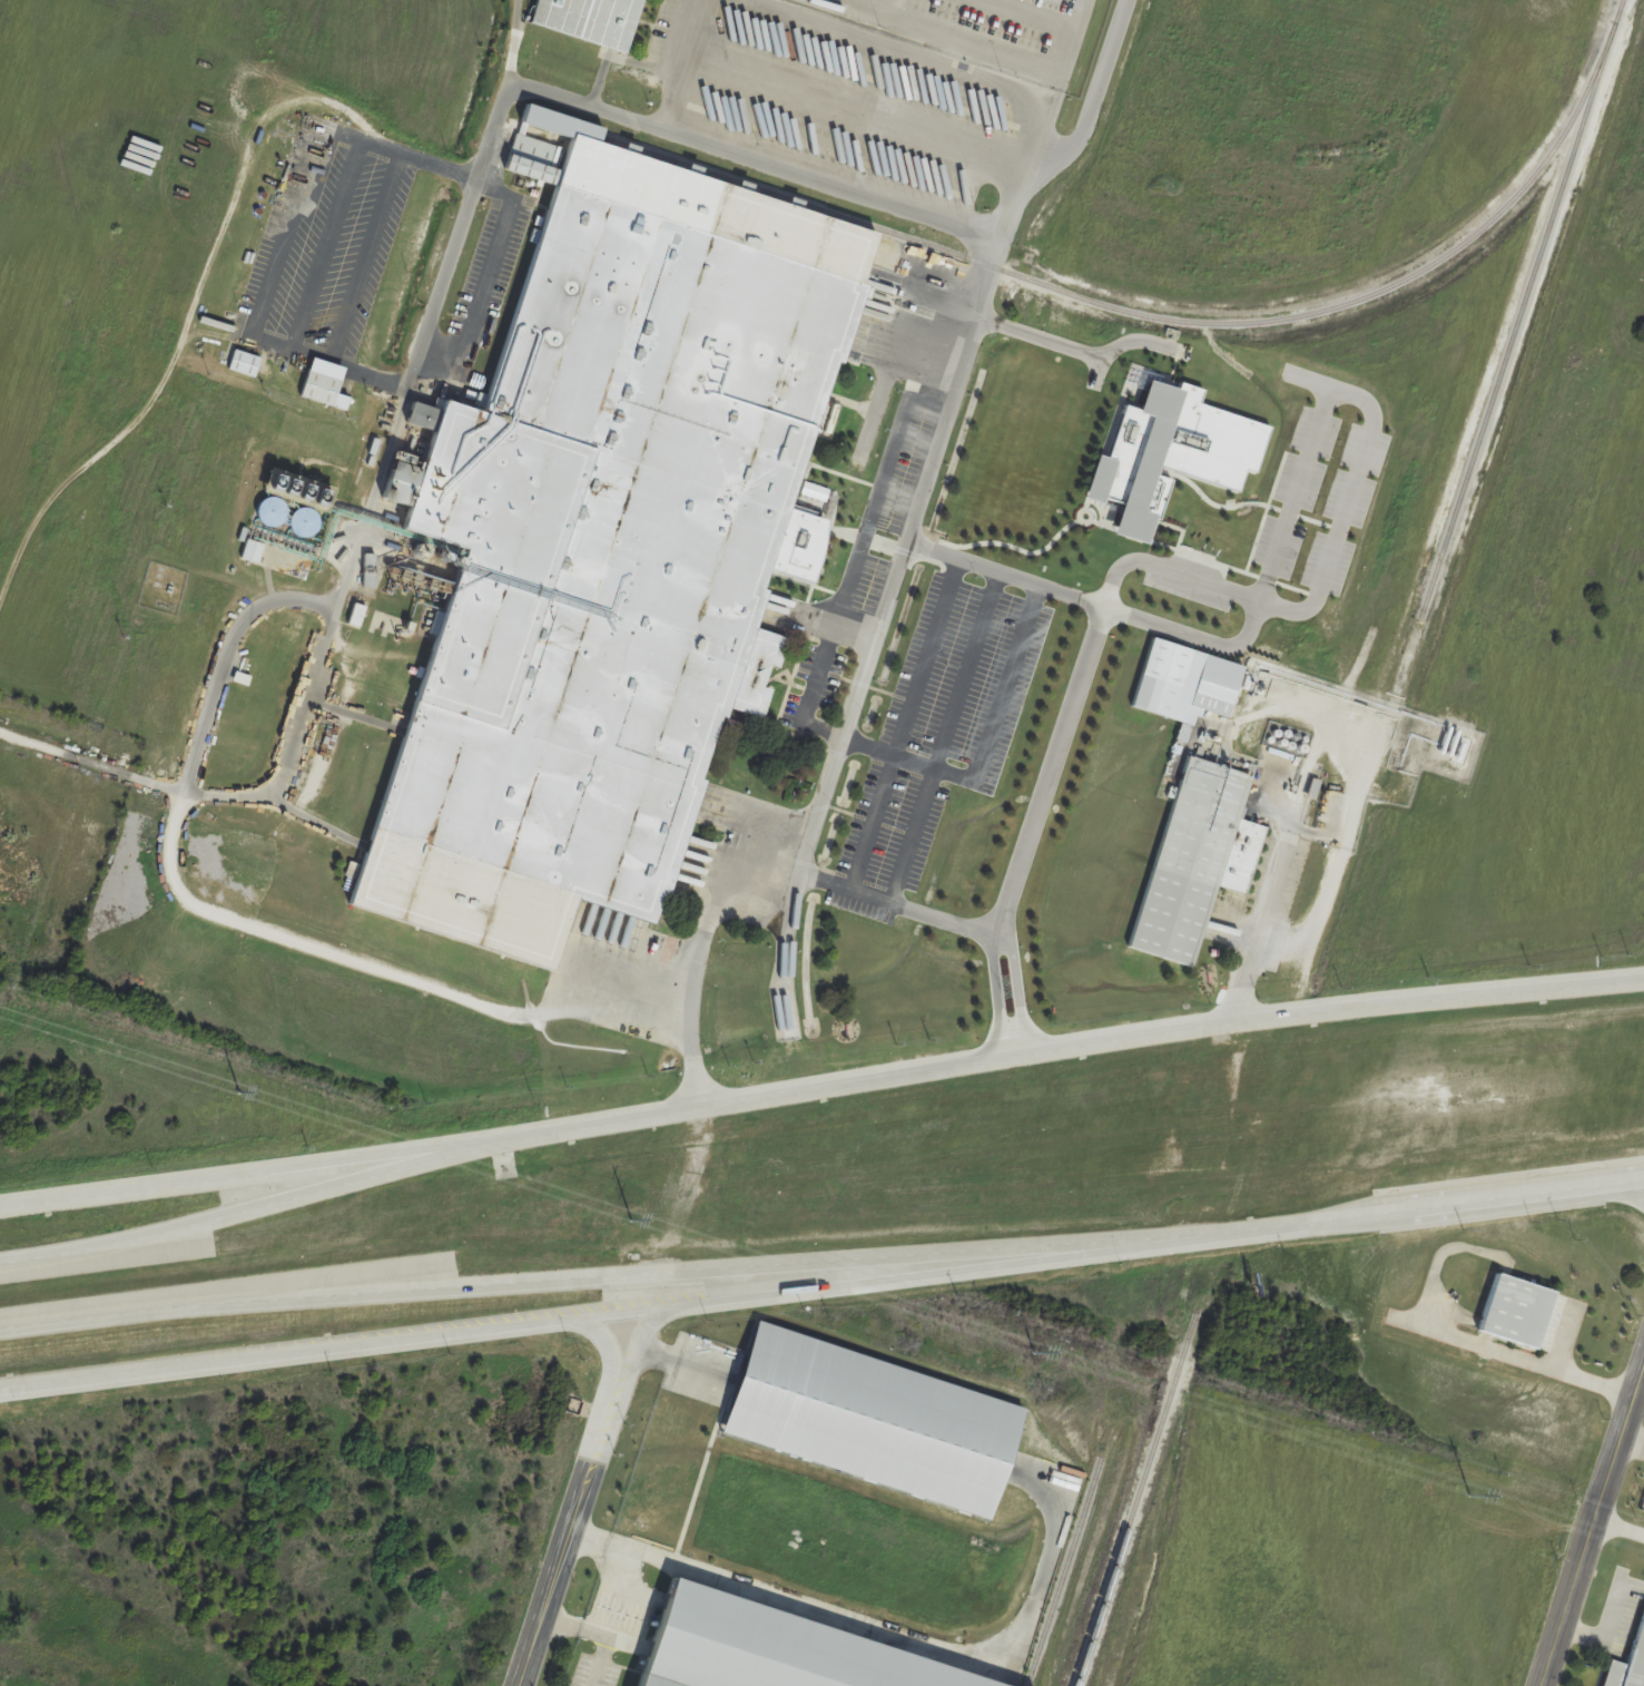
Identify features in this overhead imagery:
building: (589, 20)
road: (947, 35)
road: (1072, 43)
road: (1094, 94)
road: (599, 111)
road: (825, 192)
road: (485, 281)
railway: (1164, 315)
road: (259, 333)
road: (1055, 345)
building: (243, 363)
building: (321, 390)
railway: (1465, 492)
building: (595, 547)
road: (856, 559)
road: (1329, 559)
building: (394, 606)
road: (854, 635)
building: (1154, 696)
building: (1212, 697)
road: (902, 728)
road: (981, 748)
road: (98, 763)
road: (917, 841)
road: (806, 850)
building: (1194, 857)
road: (898, 912)
road: (258, 934)
road: (996, 950)
road: (1018, 1004)
road: (996, 1008)
road: (1057, 1048)
power tower: (242, 1092)
road: (237, 1176)
road: (1458, 1203)
road: (239, 1213)
power tower: (637, 1218)
road: (680, 1271)
road: (637, 1307)
building: (1512, 1310)
road: (43, 1321)
power tower: (1036, 1352)
road: (669, 1360)
road: (1563, 1370)
building: (868, 1420)
road: (1634, 1443)
road: (579, 1496)
power tower: (1473, 1496)
road: (1621, 1525)
road: (1593, 1532)
railway: (1123, 1548)
road: (609, 1550)
railway: (1067, 1571)
road: (1608, 1631)
road: (903, 1635)
road: (593, 1637)
building: (723, 1647)
building: (1627, 1659)

